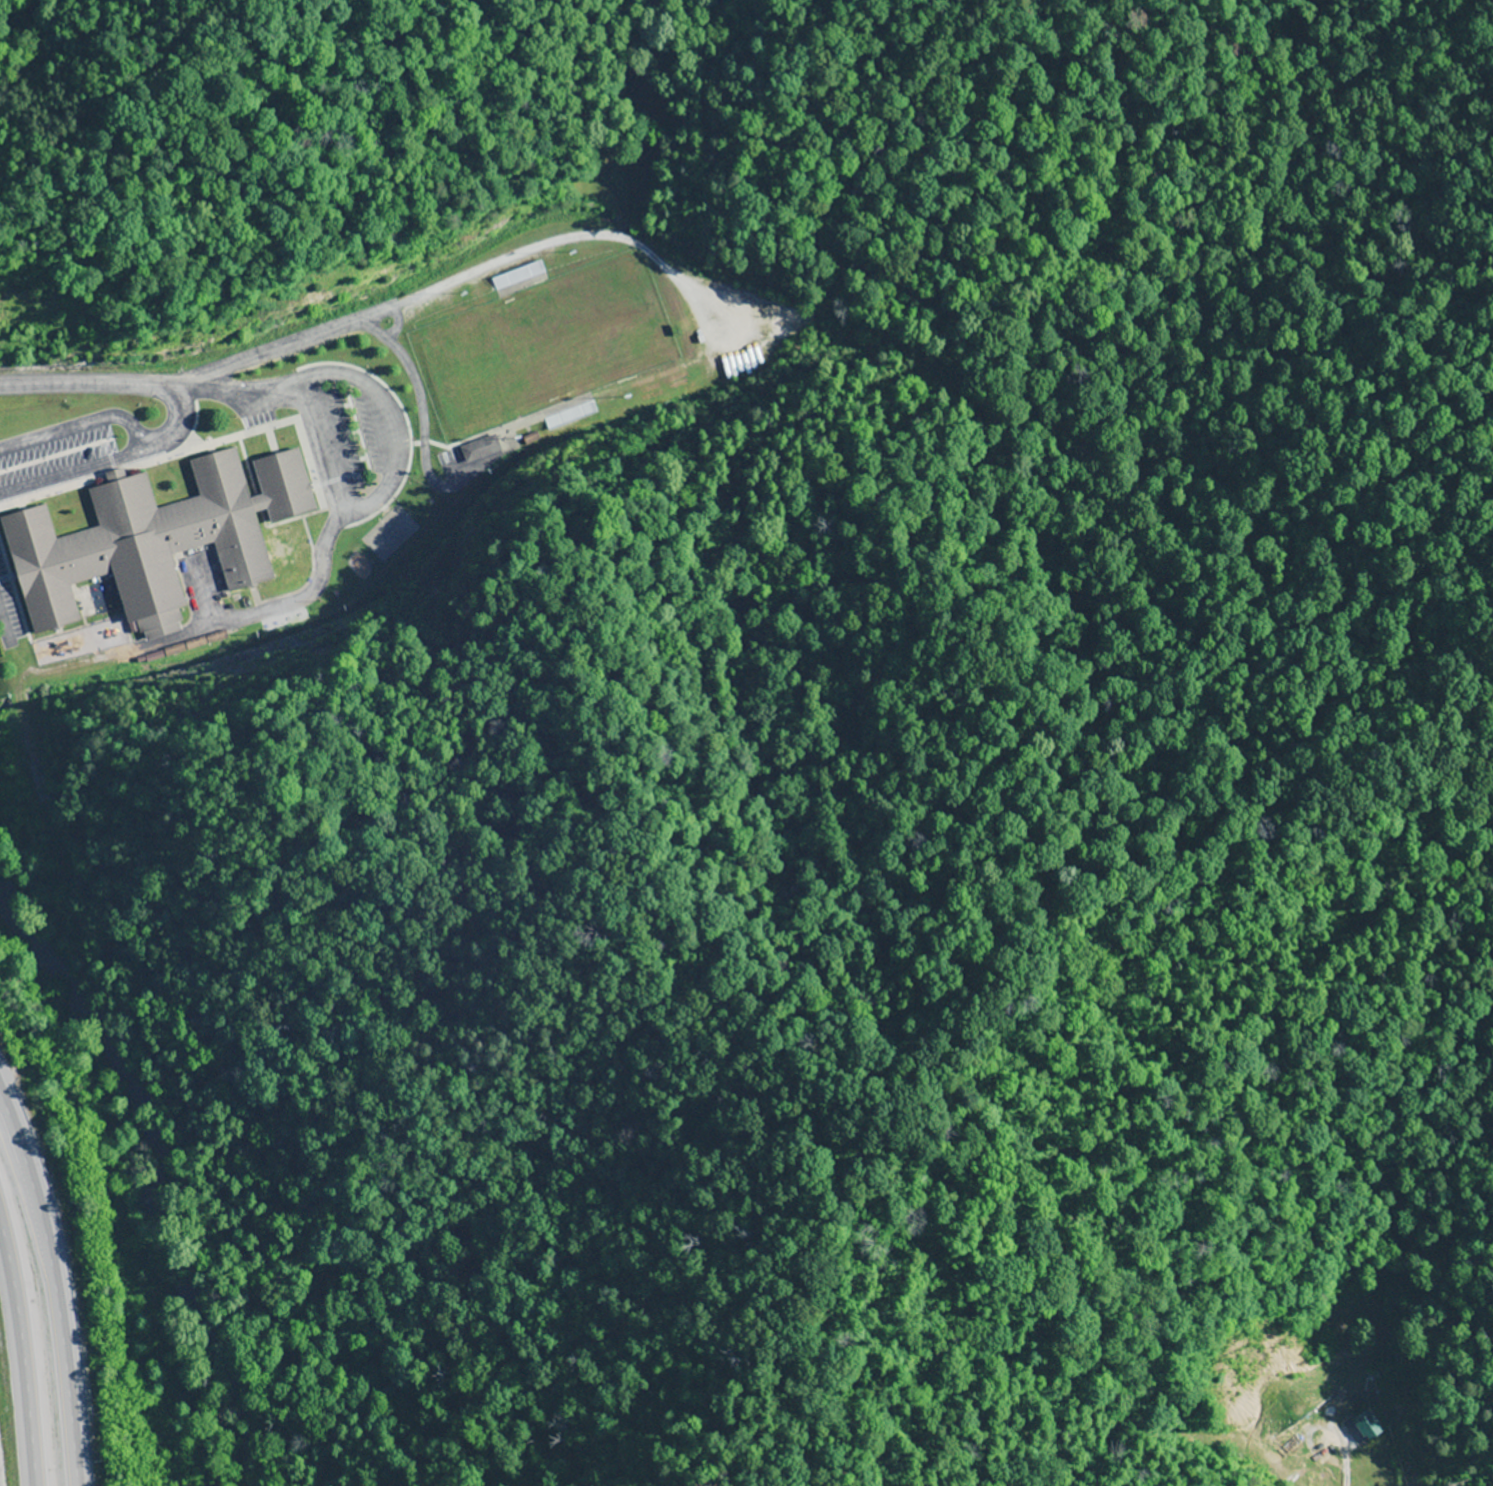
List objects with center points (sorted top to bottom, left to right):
building: (517, 276)
road: (298, 342)
building: (570, 416)
building: (479, 449)
building: (282, 486)
building: (137, 547)
road: (50, 1300)
road: (20, 1360)
building: (1362, 1428)

